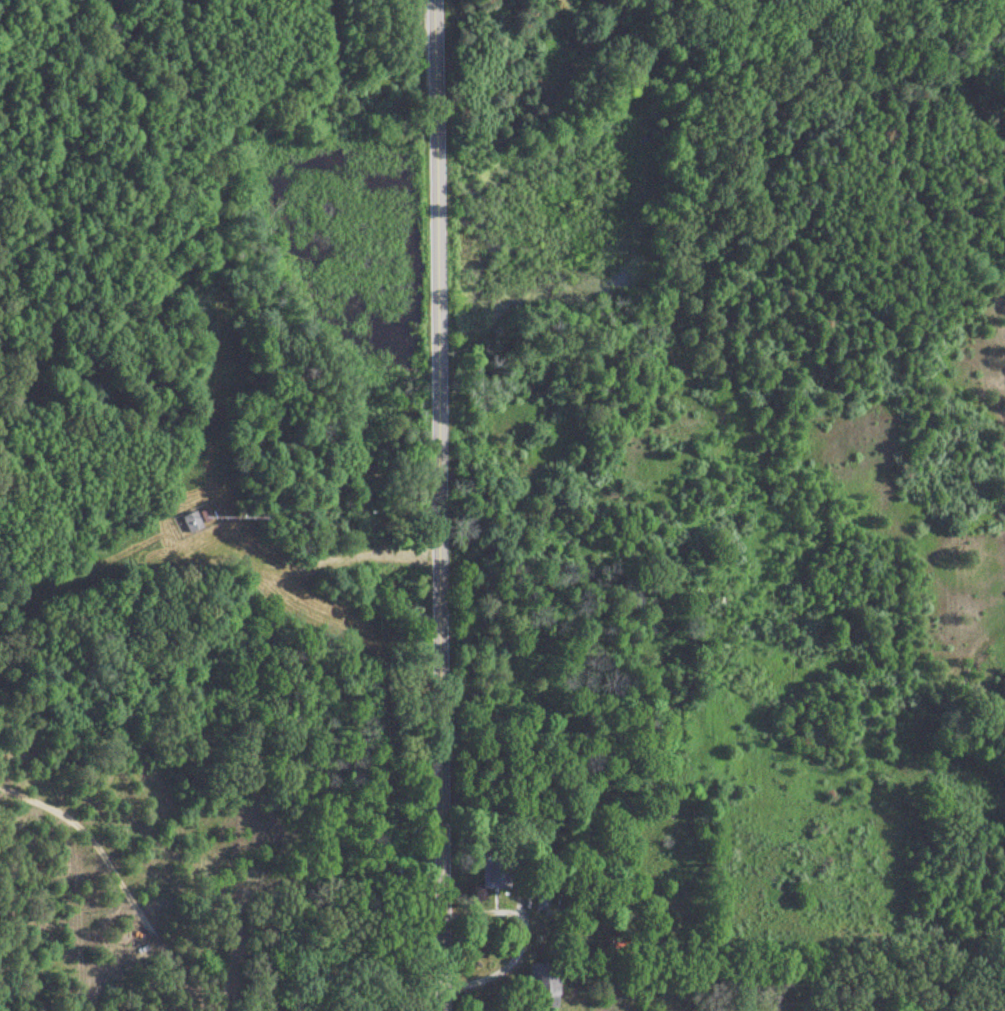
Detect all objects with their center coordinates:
road: (442, 505)
building: (188, 523)
road: (331, 555)
building: (491, 873)
road: (219, 903)
road: (510, 959)
building: (538, 973)

